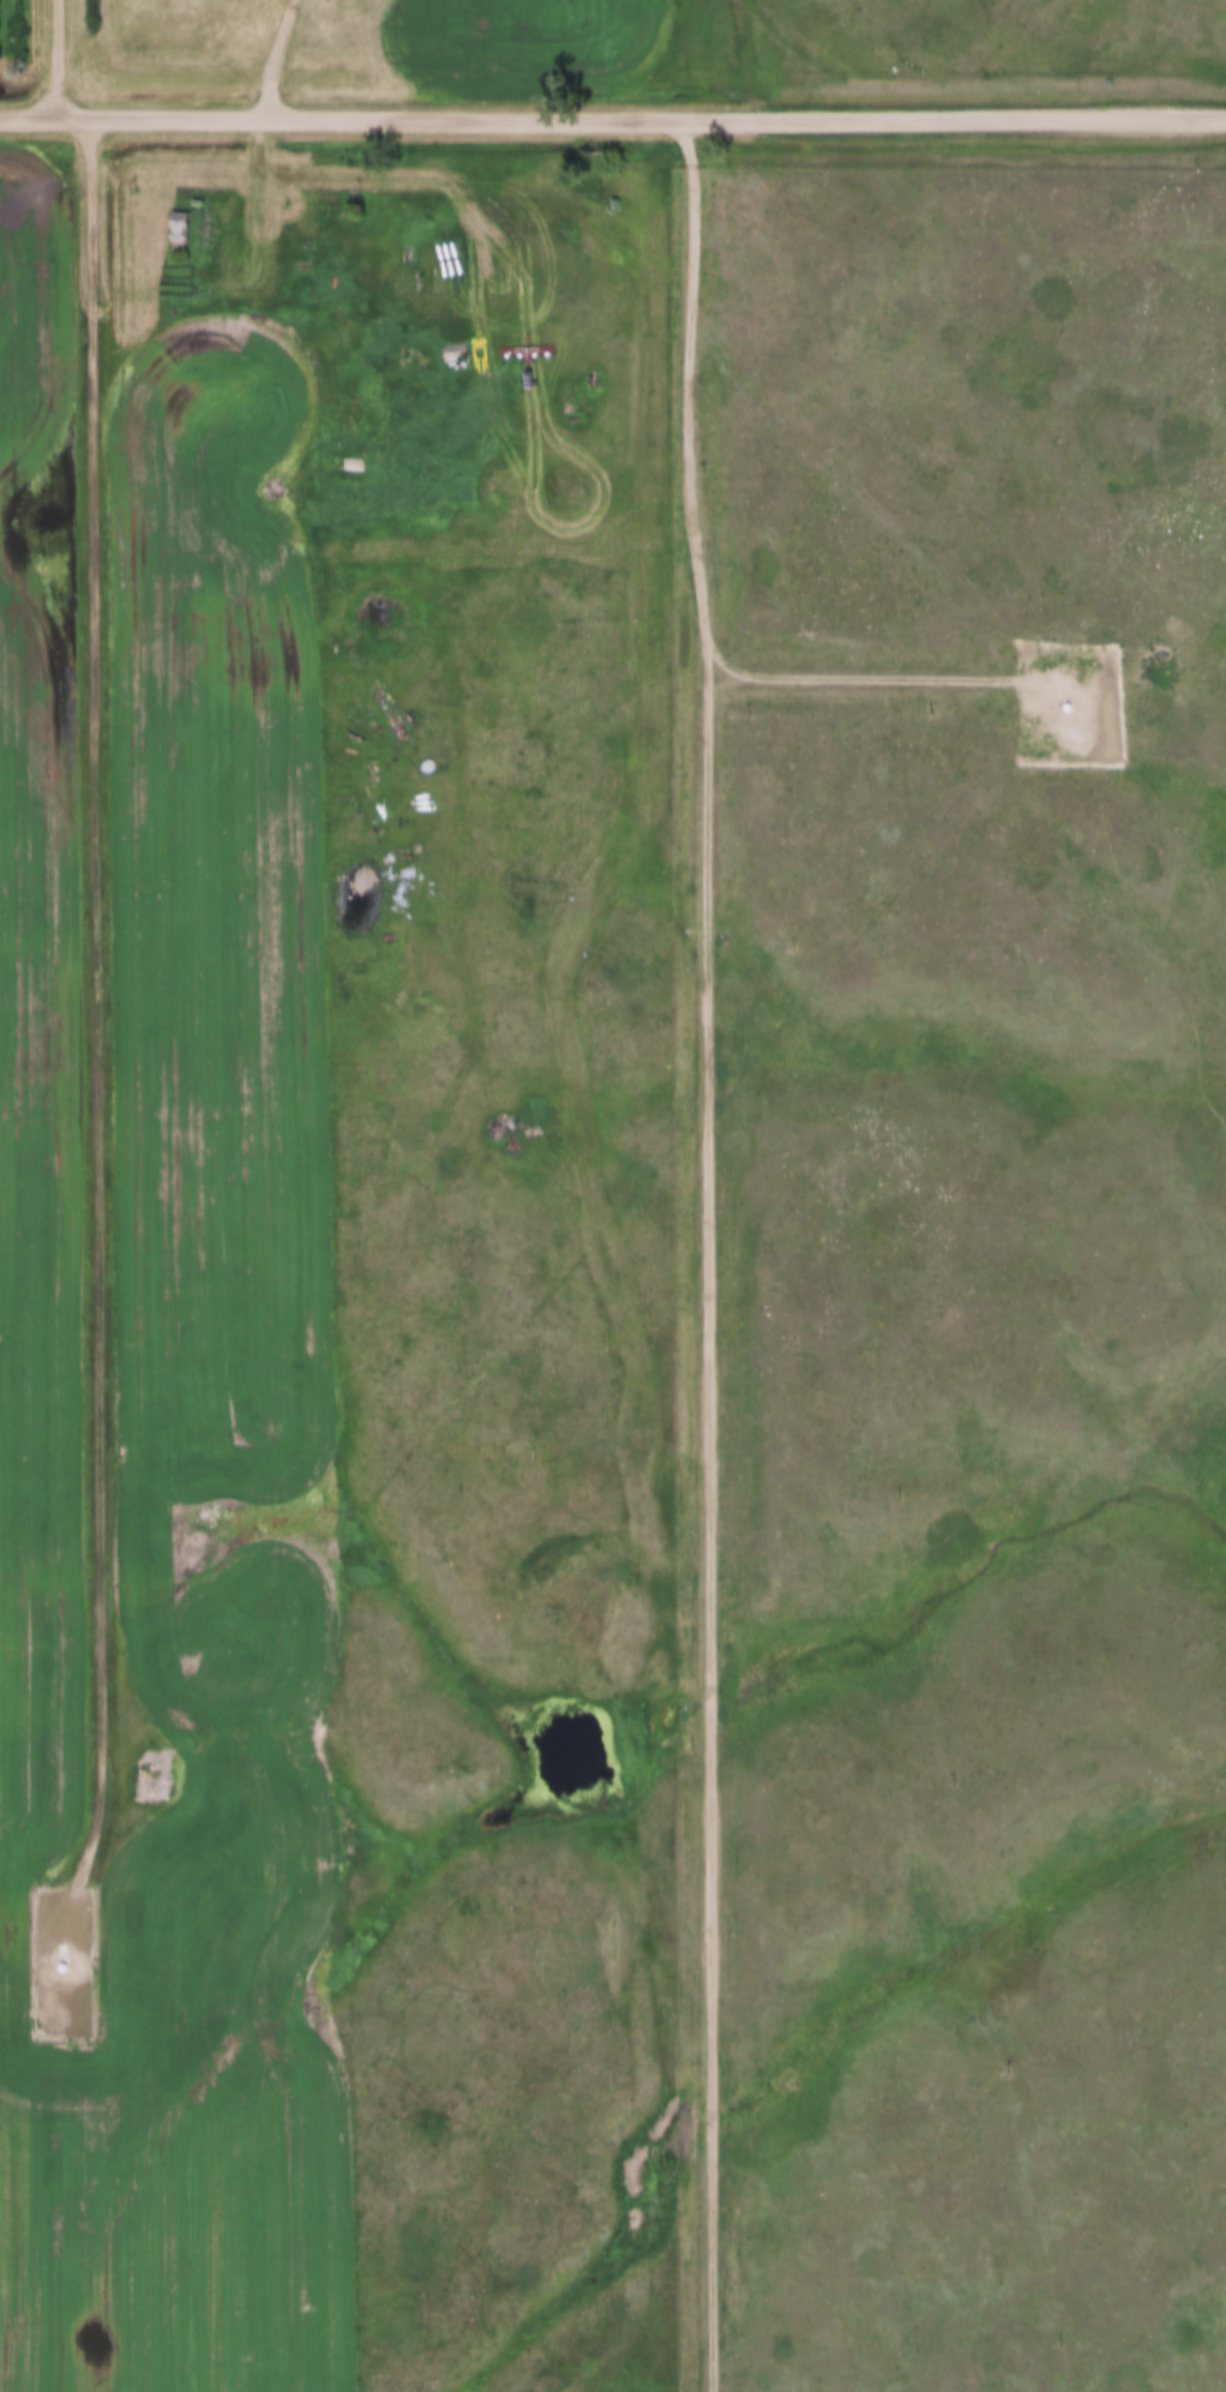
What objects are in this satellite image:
road: (59, 54)
road: (275, 54)
road: (612, 112)
building: (178, 223)
road: (883, 670)
road: (100, 1019)
road: (710, 1251)

